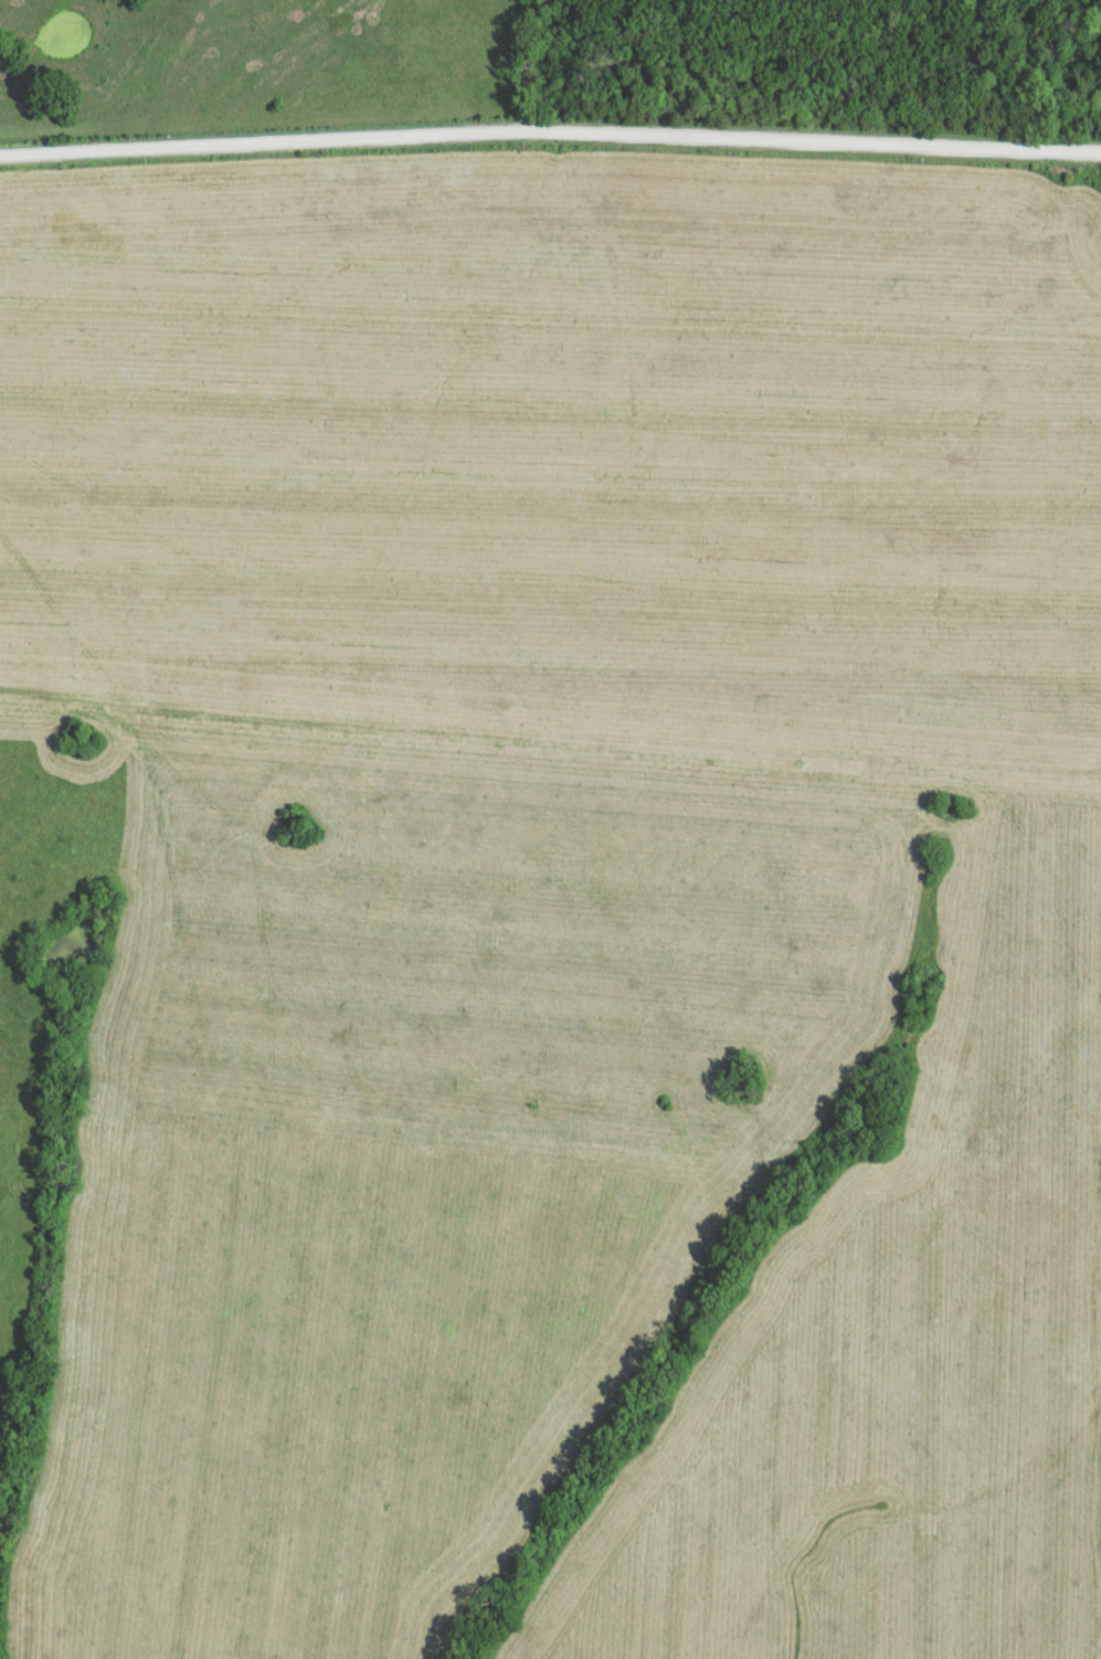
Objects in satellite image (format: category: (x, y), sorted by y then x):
road: (550, 133)

